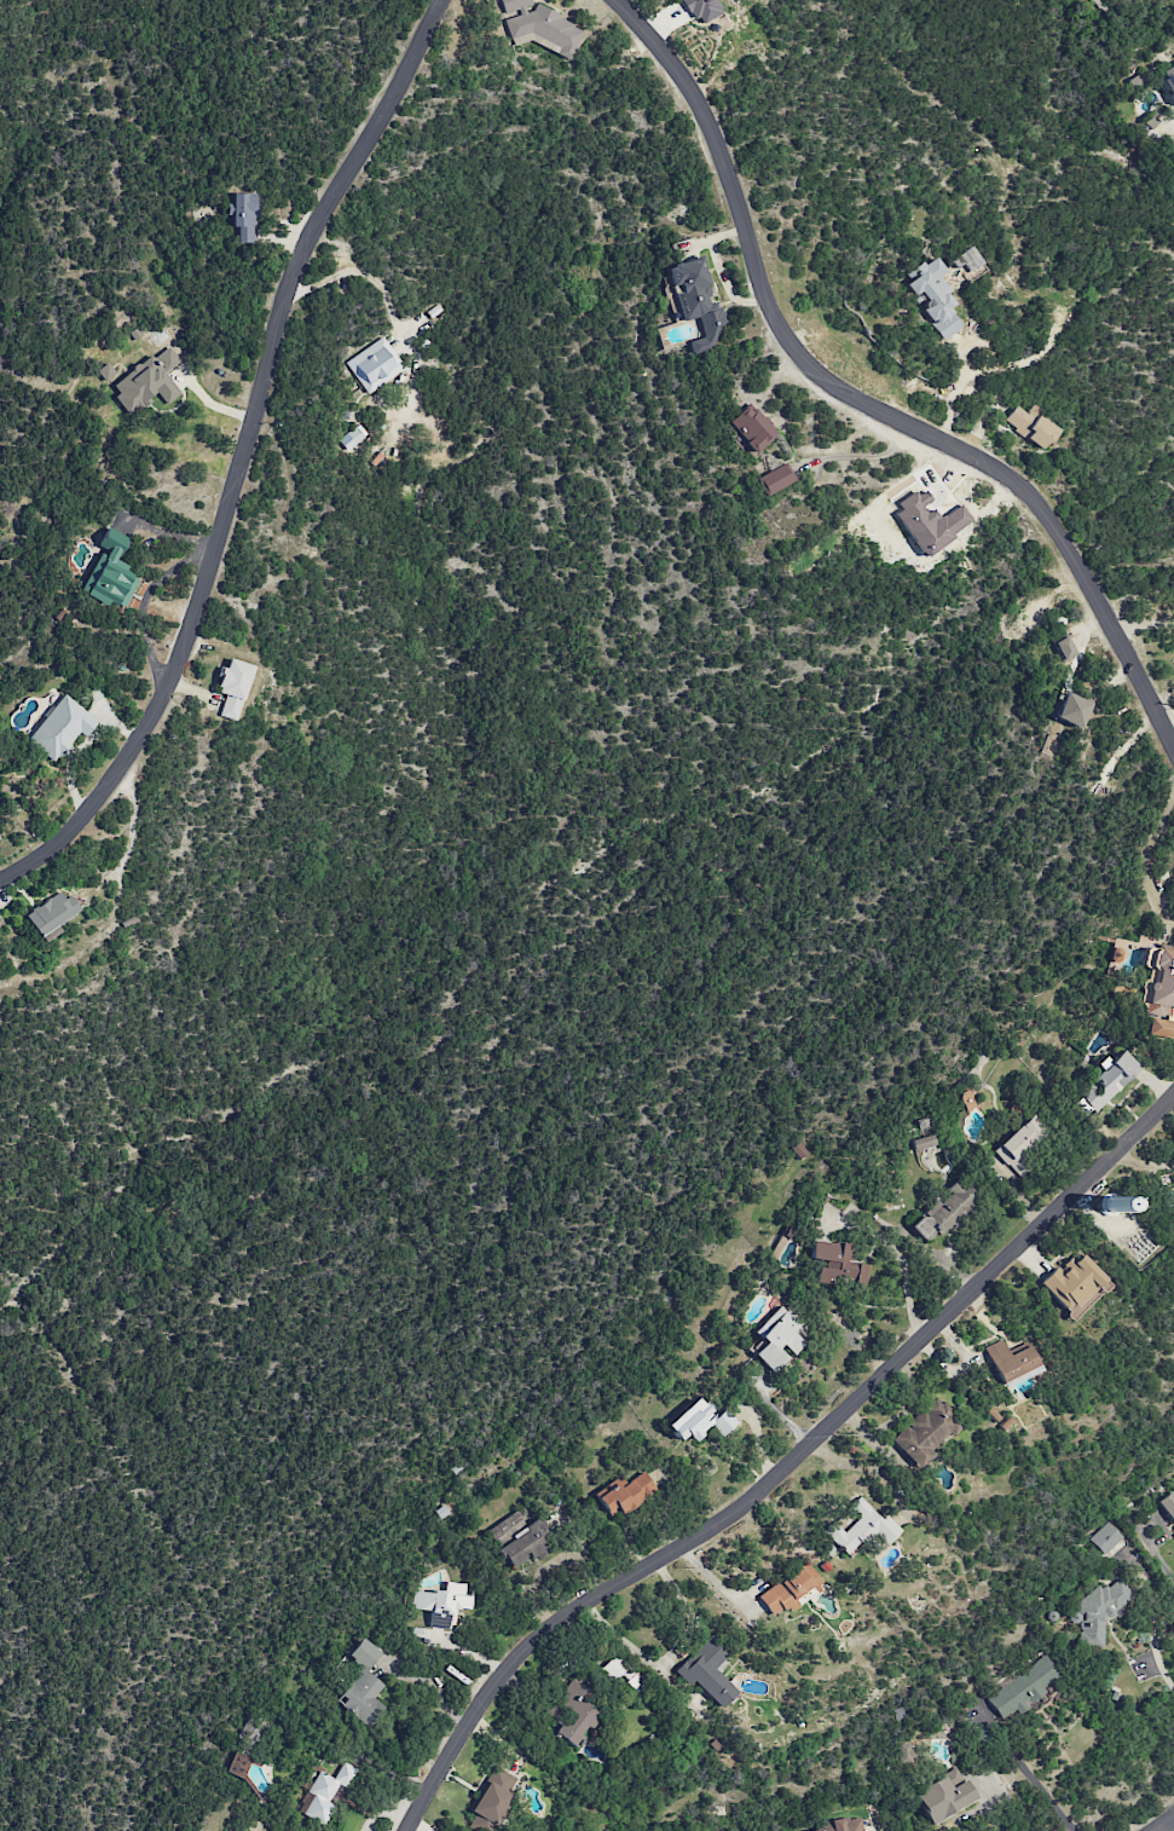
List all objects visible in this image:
building: (702, 10)
building: (539, 27)
building: (1168, 79)
building: (1137, 81)
building: (243, 215)
building: (933, 296)
building: (696, 302)
building: (375, 365)
building: (105, 371)
building: (148, 381)
road: (950, 388)
road: (860, 400)
building: (1030, 426)
building: (750, 428)
building: (355, 434)
road: (861, 456)
road: (242, 458)
building: (776, 479)
building: (929, 522)
building: (110, 572)
building: (1063, 648)
building: (232, 687)
building: (1071, 710)
building: (60, 728)
road: (1170, 730)
building: (51, 912)
building: (1158, 990)
building: (1108, 1080)
building: (921, 1142)
building: (1173, 1178)
building: (1167, 1197)
building: (943, 1211)
building: (837, 1263)
building: (776, 1338)
building: (1011, 1363)
building: (700, 1421)
building: (926, 1432)
road: (786, 1467)
building: (625, 1494)
building: (1167, 1504)
building: (862, 1527)
building: (1173, 1532)
building: (1104, 1537)
building: (517, 1540)
road: (1162, 1558)
building: (787, 1590)
building: (441, 1604)
building: (1095, 1612)
road: (1153, 1633)
building: (707, 1670)
building: (363, 1686)
building: (1022, 1688)
building: (572, 1712)
building: (906, 1752)
road: (1036, 1778)
building: (324, 1792)
building: (943, 1796)
building: (492, 1800)
road: (993, 1810)
road: (1163, 1824)
building: (842, 1825)
road: (1168, 1826)

